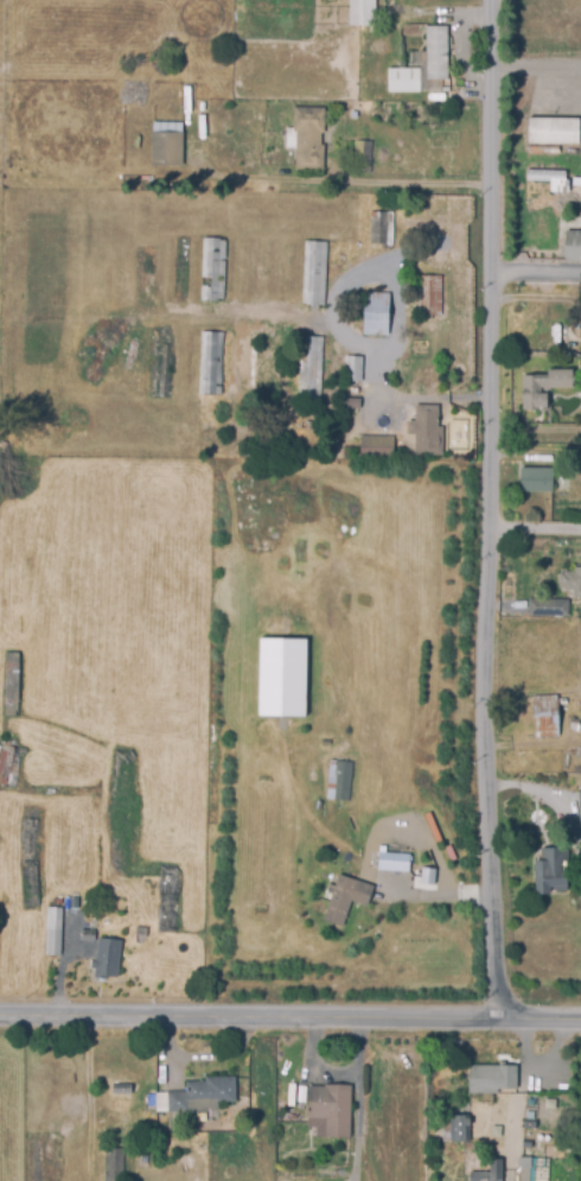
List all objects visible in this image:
building: (362, 13)
building: (435, 55)
road: (534, 71)
building: (403, 83)
building: (554, 129)
building: (307, 138)
building: (165, 152)
building: (362, 158)
building: (550, 176)
road: (347, 179)
building: (383, 229)
building: (573, 246)
building: (212, 271)
building: (314, 272)
road: (534, 272)
building: (430, 294)
building: (377, 313)
road: (352, 328)
building: (553, 334)
building: (210, 366)
building: (311, 367)
building: (352, 369)
building: (531, 391)
building: (350, 404)
building: (350, 430)
building: (426, 430)
building: (377, 446)
building: (574, 453)
building: (536, 480)
road: (484, 508)
road: (532, 529)
building: (570, 580)
building: (548, 607)
building: (280, 677)
building: (8, 684)
building: (545, 716)
building: (574, 726)
building: (7, 766)
building: (343, 780)
road: (553, 798)
building: (579, 809)
building: (373, 855)
building: (394, 859)
building: (550, 875)
building: (428, 876)
building: (28, 887)
building: (166, 902)
building: (343, 902)
building: (52, 934)
building: (87, 938)
building: (107, 959)
road: (290, 1015)
road: (539, 1062)
building: (491, 1078)
building: (122, 1090)
building: (200, 1098)
building: (159, 1101)
building: (328, 1113)
building: (580, 1115)
road: (518, 1120)
building: (460, 1135)
building: (113, 1166)
building: (490, 1172)
building: (525, 1174)

